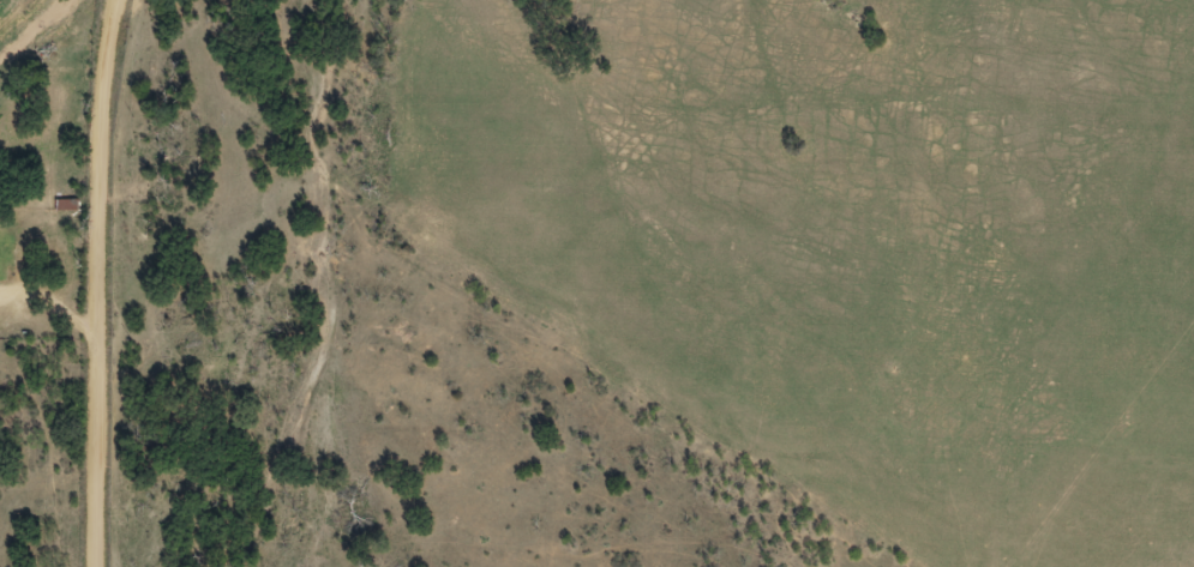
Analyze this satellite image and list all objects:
road: (103, 283)
road: (56, 351)
road: (1056, 448)

